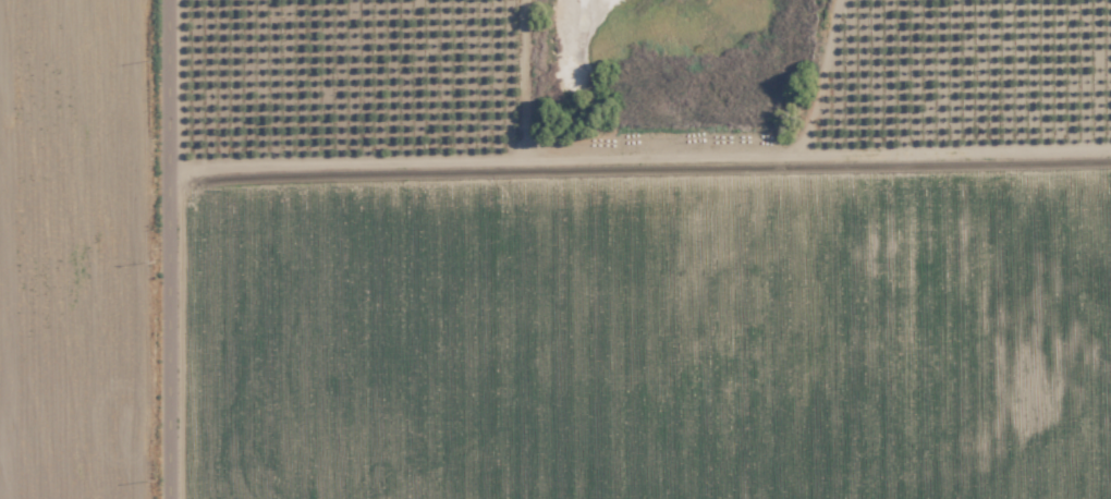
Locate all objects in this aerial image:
road: (172, 249)

